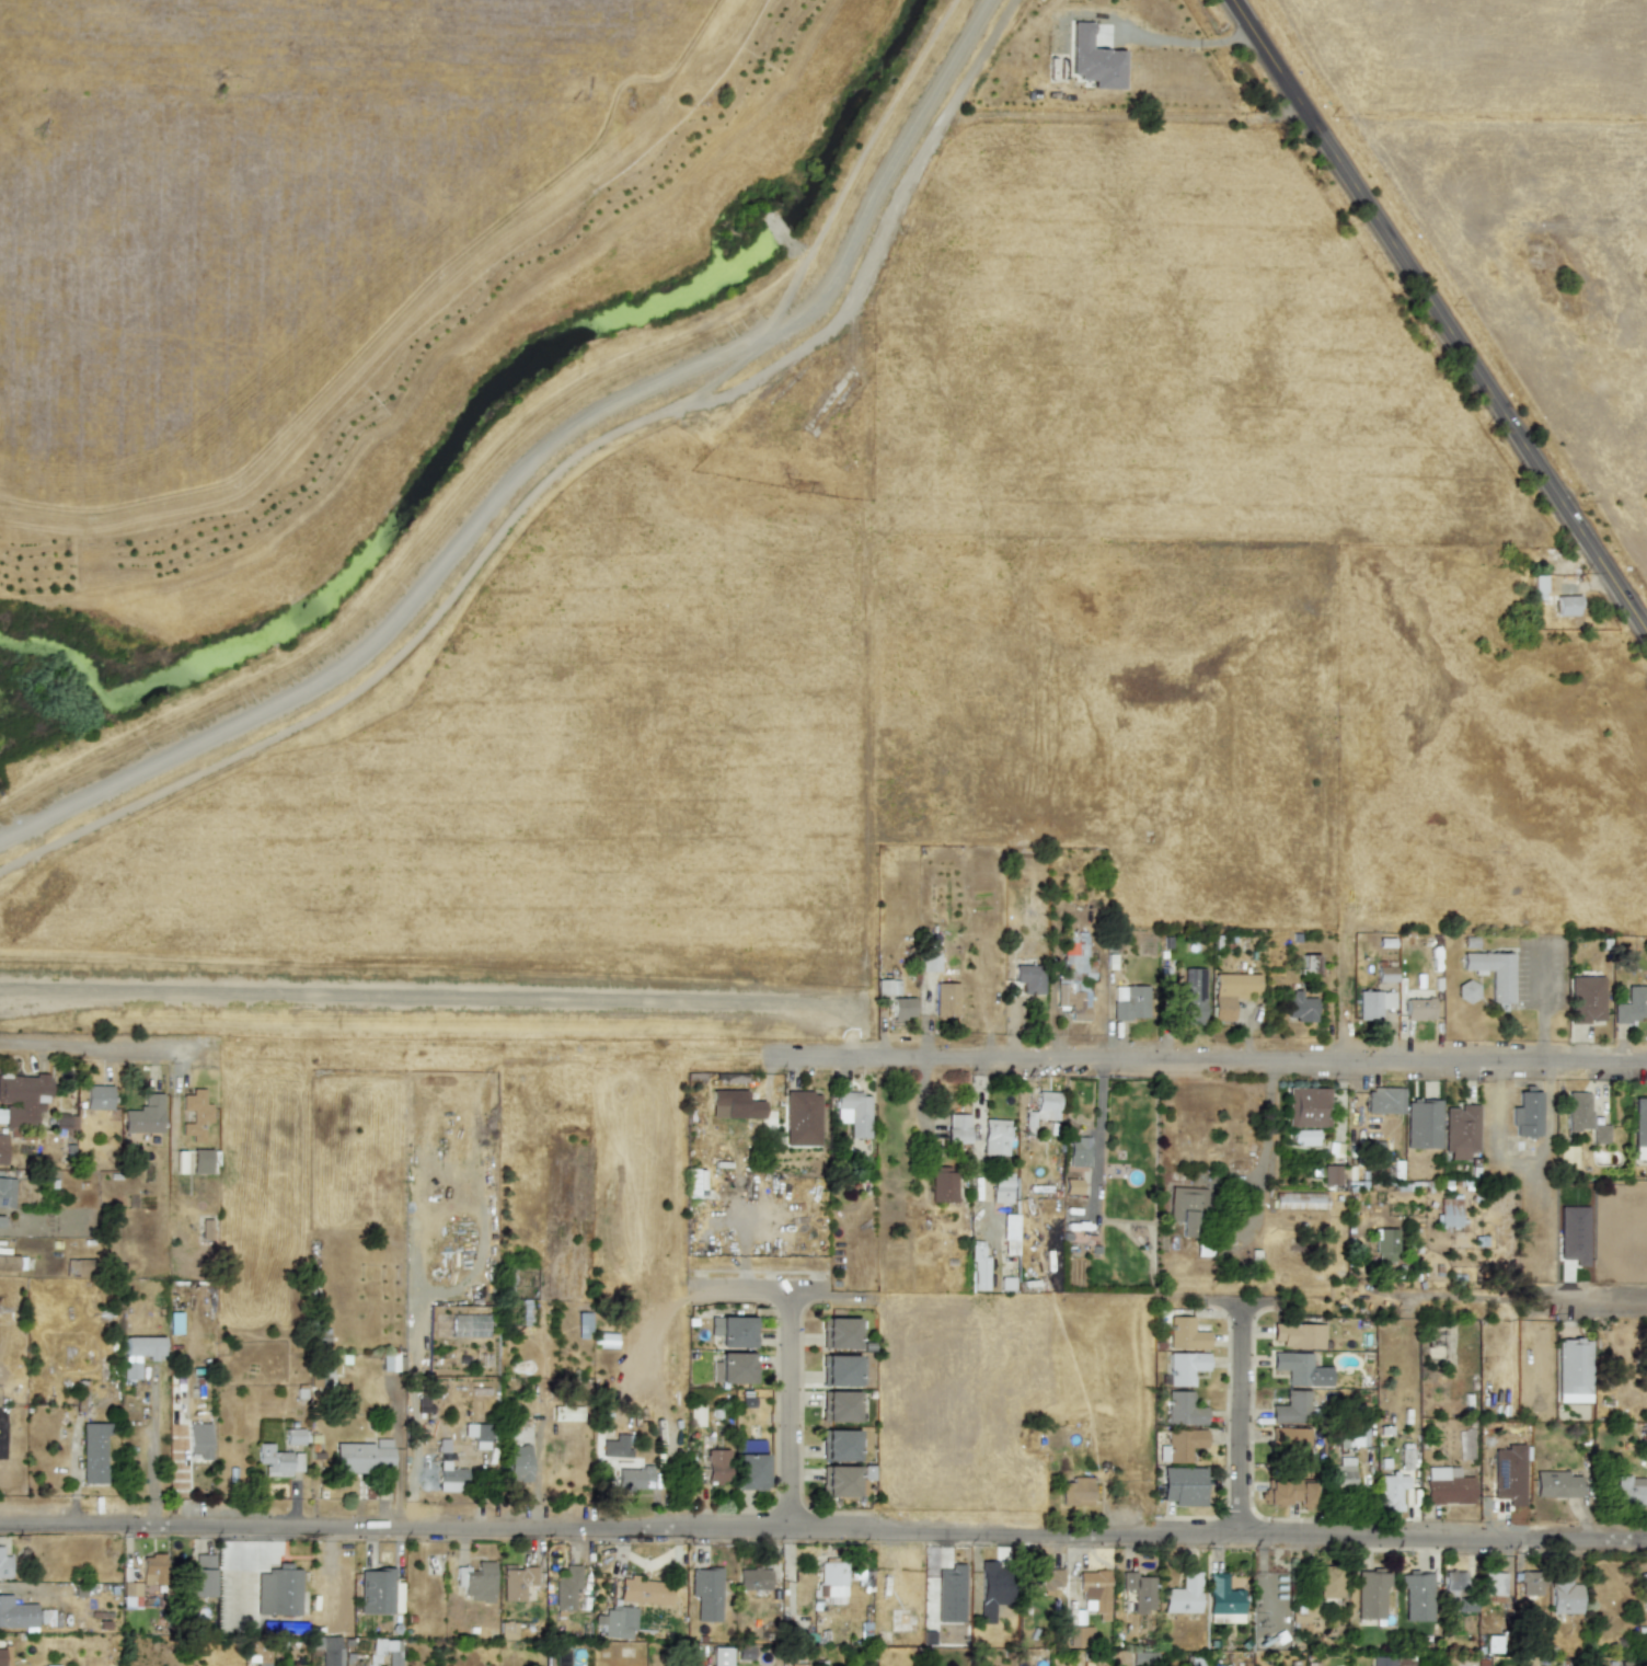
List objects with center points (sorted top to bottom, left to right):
road: (1184, 42)
building: (1093, 59)
road: (1441, 315)
road: (537, 455)
crop: (629, 461)
building: (1539, 587)
building: (1567, 606)
building: (929, 962)
building: (1308, 965)
building: (1073, 973)
building: (1491, 973)
building: (1029, 974)
building: (1385, 974)
building: (887, 987)
building: (1467, 991)
building: (1232, 992)
building: (946, 999)
building: (1190, 999)
building: (1585, 999)
building: (1129, 1002)
building: (1372, 1003)
building: (1632, 1006)
building: (1300, 1007)
building: (902, 1008)
building: (1418, 1009)
road: (95, 1044)
road: (1214, 1060)
building: (97, 1096)
building: (23, 1100)
building: (1384, 1101)
building: (1306, 1106)
building: (1043, 1107)
building: (1578, 1111)
building: (854, 1113)
building: (195, 1114)
building: (1527, 1114)
building: (145, 1115)
building: (802, 1118)
building: (65, 1121)
building: (1423, 1124)
building: (957, 1128)
building: (1639, 1130)
building: (1460, 1131)
building: (1600, 1134)
building: (995, 1137)
building: (1304, 1137)
road: (1097, 1139)
road: (1266, 1139)
building: (2, 1148)
building: (1078, 1152)
building: (1566, 1157)
building: (200, 1161)
building: (180, 1162)
building: (1329, 1174)
building: (694, 1183)
building: (942, 1184)
building: (1072, 1186)
building: (1001, 1187)
building: (7, 1192)
building: (1185, 1207)
building: (1449, 1213)
building: (0, 1221)
building: (206, 1229)
building: (1009, 1233)
building: (1384, 1244)
building: (16, 1262)
building: (76, 1267)
building: (977, 1267)
road: (782, 1299)
road: (1400, 1302)
building: (174, 1322)
building: (583, 1325)
building: (733, 1331)
building: (838, 1333)
building: (319, 1334)
building: (1185, 1334)
building: (1298, 1335)
building: (143, 1347)
building: (388, 1361)
building: (1185, 1367)
building: (733, 1368)
building: (1300, 1369)
building: (130, 1370)
building: (329, 1370)
building: (842, 1370)
building: (1573, 1370)
building: (301, 1391)
building: (843, 1406)
building: (1291, 1408)
building: (1183, 1409)
building: (566, 1413)
road: (788, 1413)
road: (1237, 1416)
building: (476, 1435)
building: (1644, 1435)
building: (296, 1436)
building: (1351, 1437)
building: (194, 1439)
building: (1291, 1441)
building: (1180, 1444)
building: (839, 1445)
building: (617, 1446)
building: (93, 1451)
building: (364, 1456)
building: (277, 1460)
building: (1405, 1460)
building: (518, 1463)
building: (750, 1464)
building: (716, 1466)
building: (1343, 1473)
building: (1508, 1473)
building: (449, 1477)
road: (537, 1477)
building: (632, 1478)
building: (839, 1481)
building: (1556, 1484)
building: (1183, 1485)
building: (1447, 1486)
building: (1076, 1491)
building: (1391, 1491)
building: (1631, 1492)
building: (1289, 1493)
road: (822, 1527)
road: (235, 1529)
road: (275, 1530)
road: (276, 1548)
building: (4, 1565)
building: (152, 1570)
building: (198, 1577)
building: (753, 1578)
building: (1044, 1578)
road: (235, 1581)
building: (476, 1581)
building: (517, 1581)
building: (830, 1581)
building: (1329, 1582)
building: (1530, 1583)
building: (1493, 1584)
building: (566, 1588)
building: (991, 1589)
building: (1644, 1589)
building: (278, 1590)
building: (643, 1590)
building: (1455, 1590)
building: (379, 1592)
building: (1094, 1592)
building: (1139, 1592)
building: (706, 1593)
building: (949, 1594)
building: (1370, 1594)
building: (1184, 1595)
building: (1564, 1595)
building: (1416, 1596)
building: (136, 1597)
building: (1224, 1599)
building: (16, 1613)
building: (902, 1621)
building: (617, 1622)
building: (510, 1630)
building: (1079, 1635)
building: (1491, 1644)
building: (327, 1650)
building: (4, 1656)
building: (722, 1656)
building: (1379, 1661)

